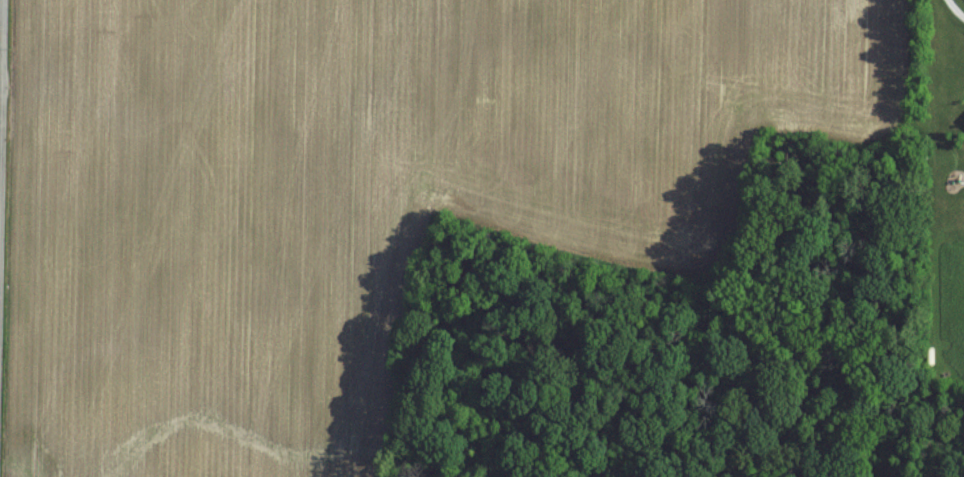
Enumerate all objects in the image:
road: (954, 10)

